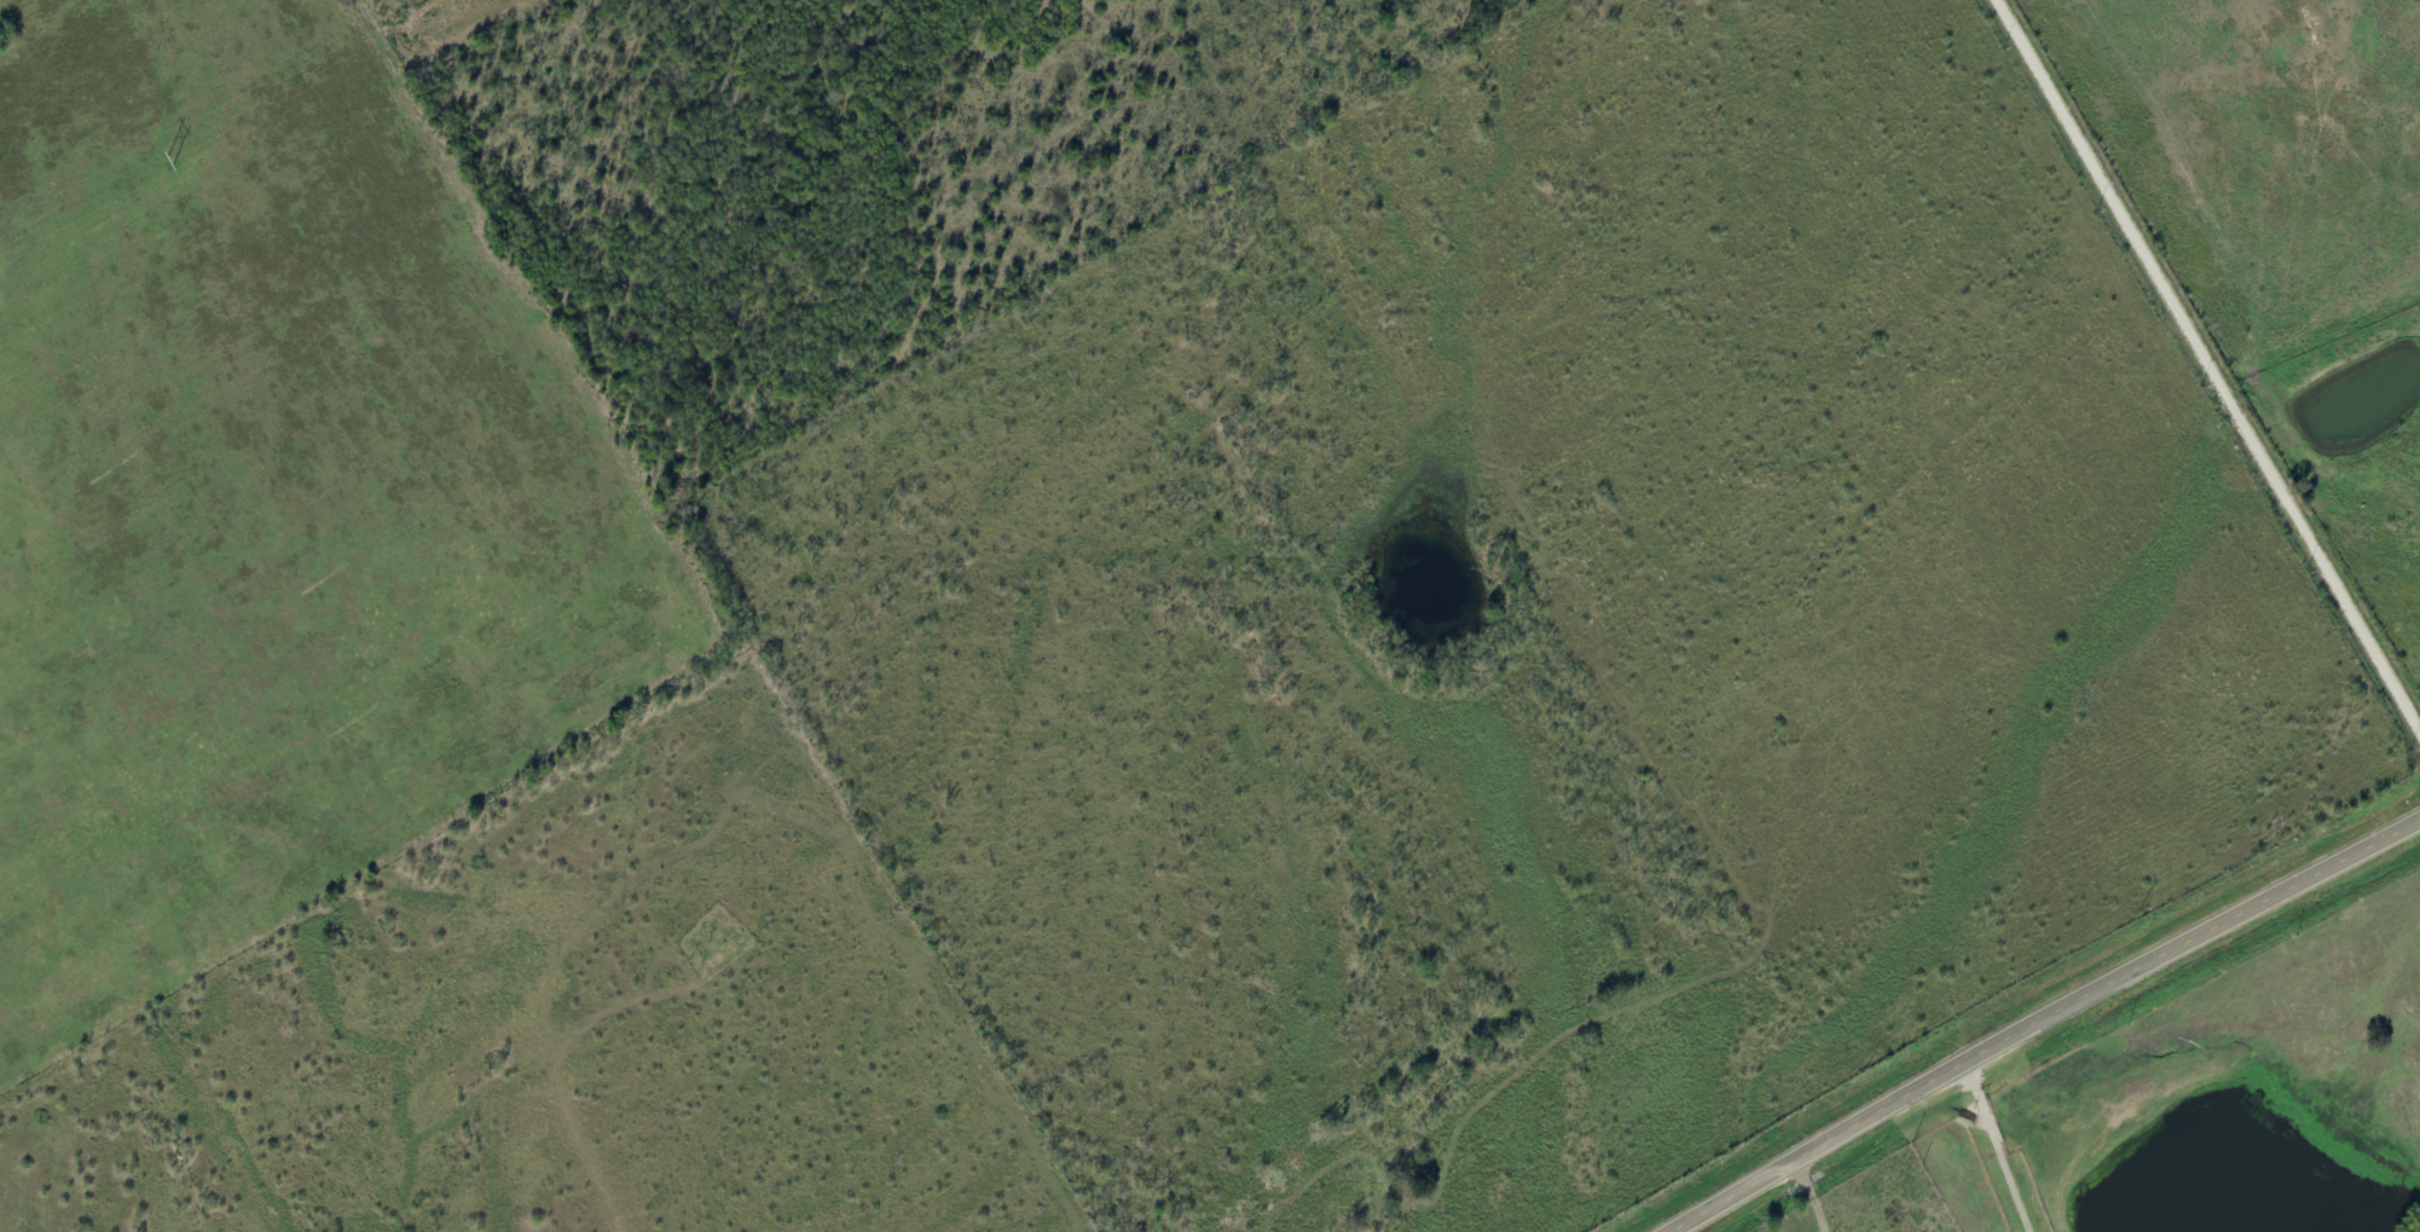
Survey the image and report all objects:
power tower: (174, 160)
road: (2213, 357)
road: (2049, 1024)

